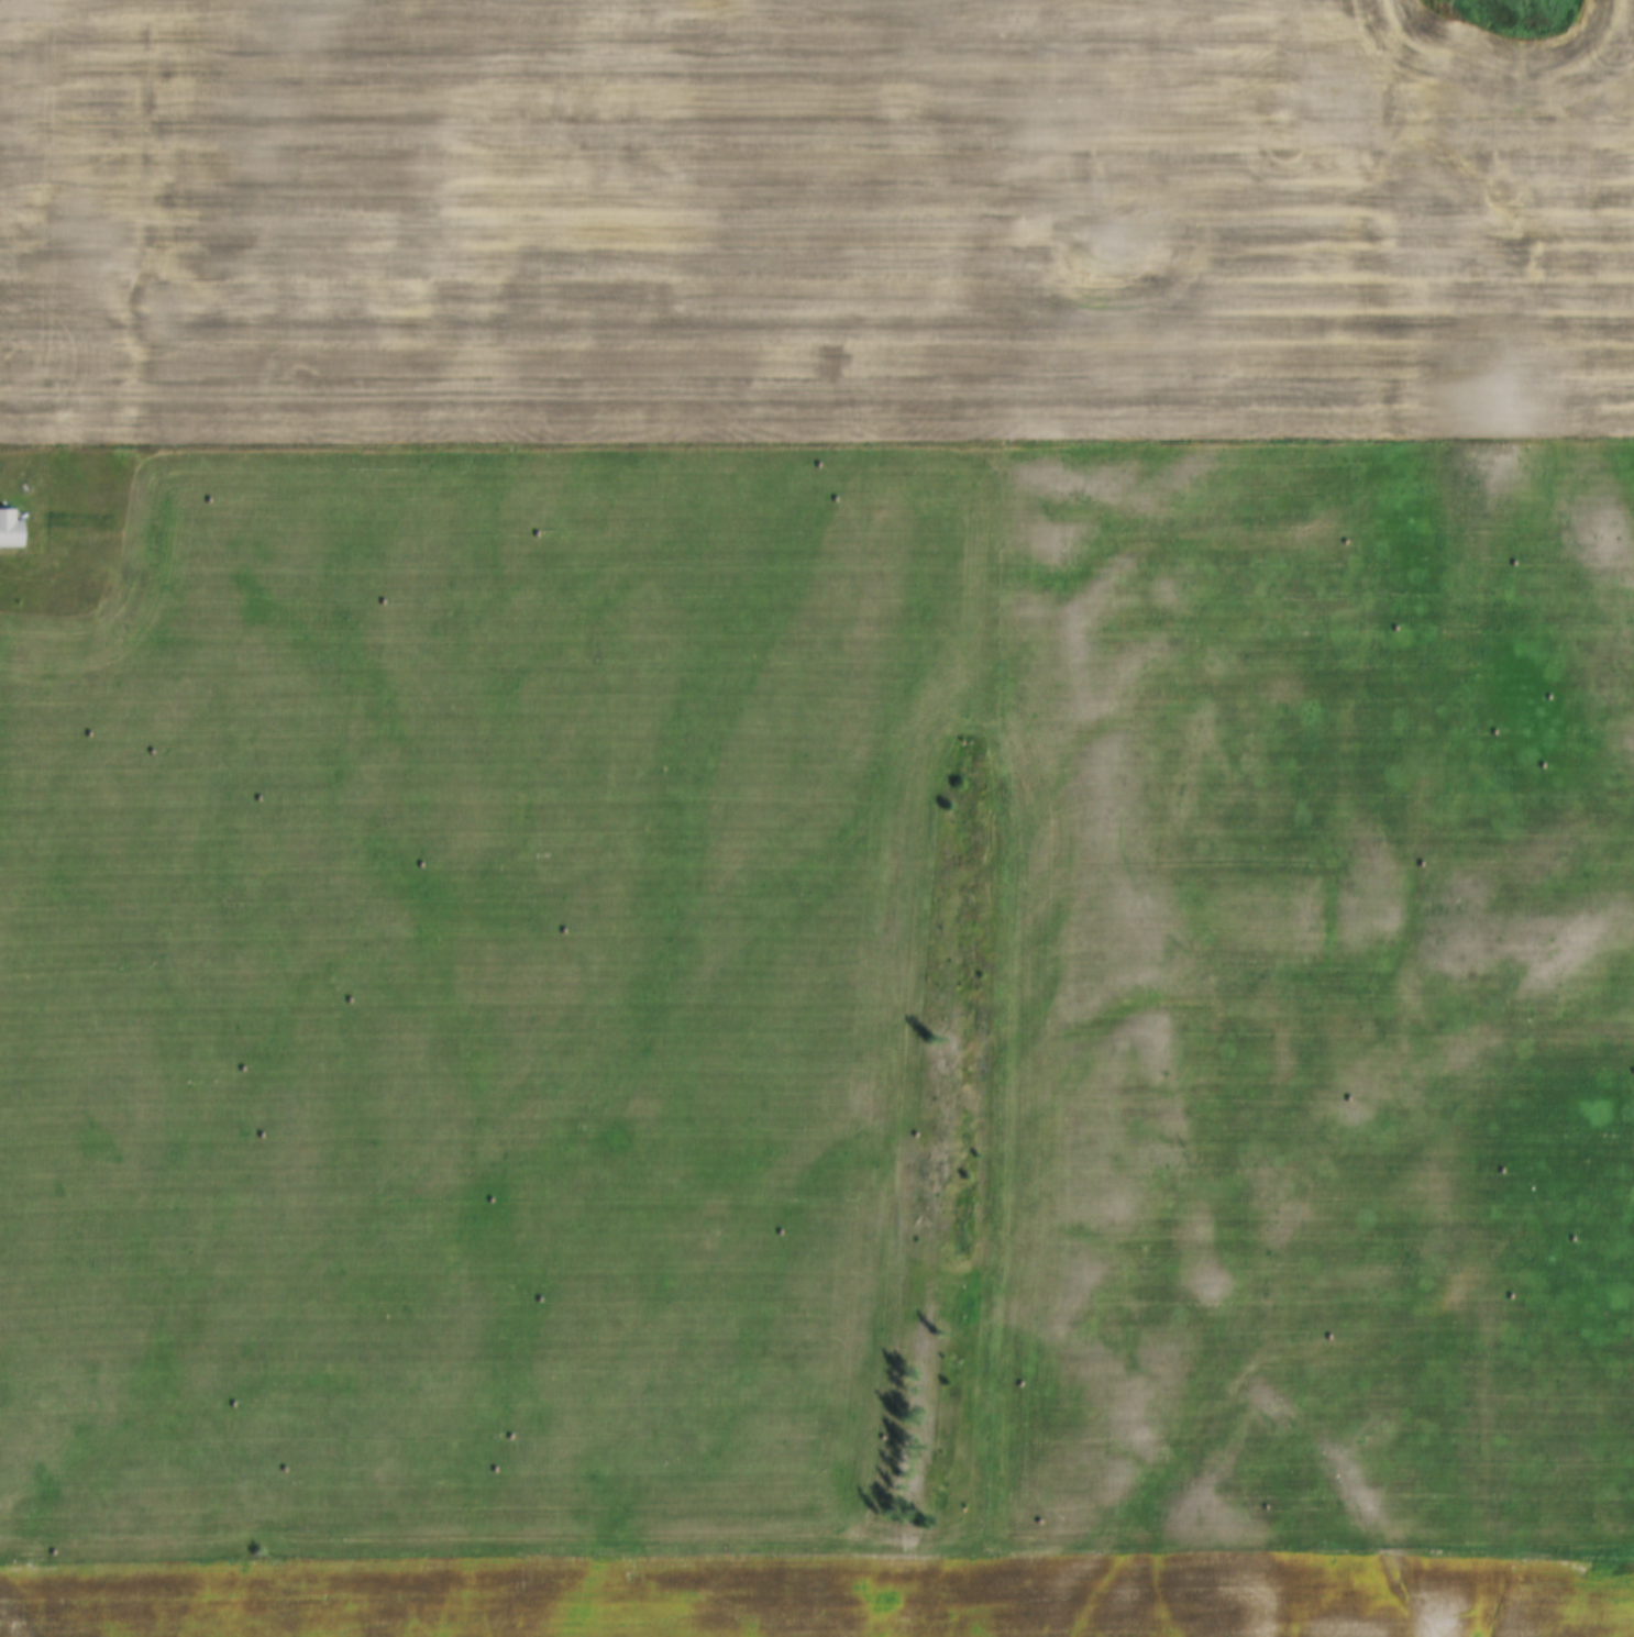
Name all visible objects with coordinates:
building: (9, 529)

